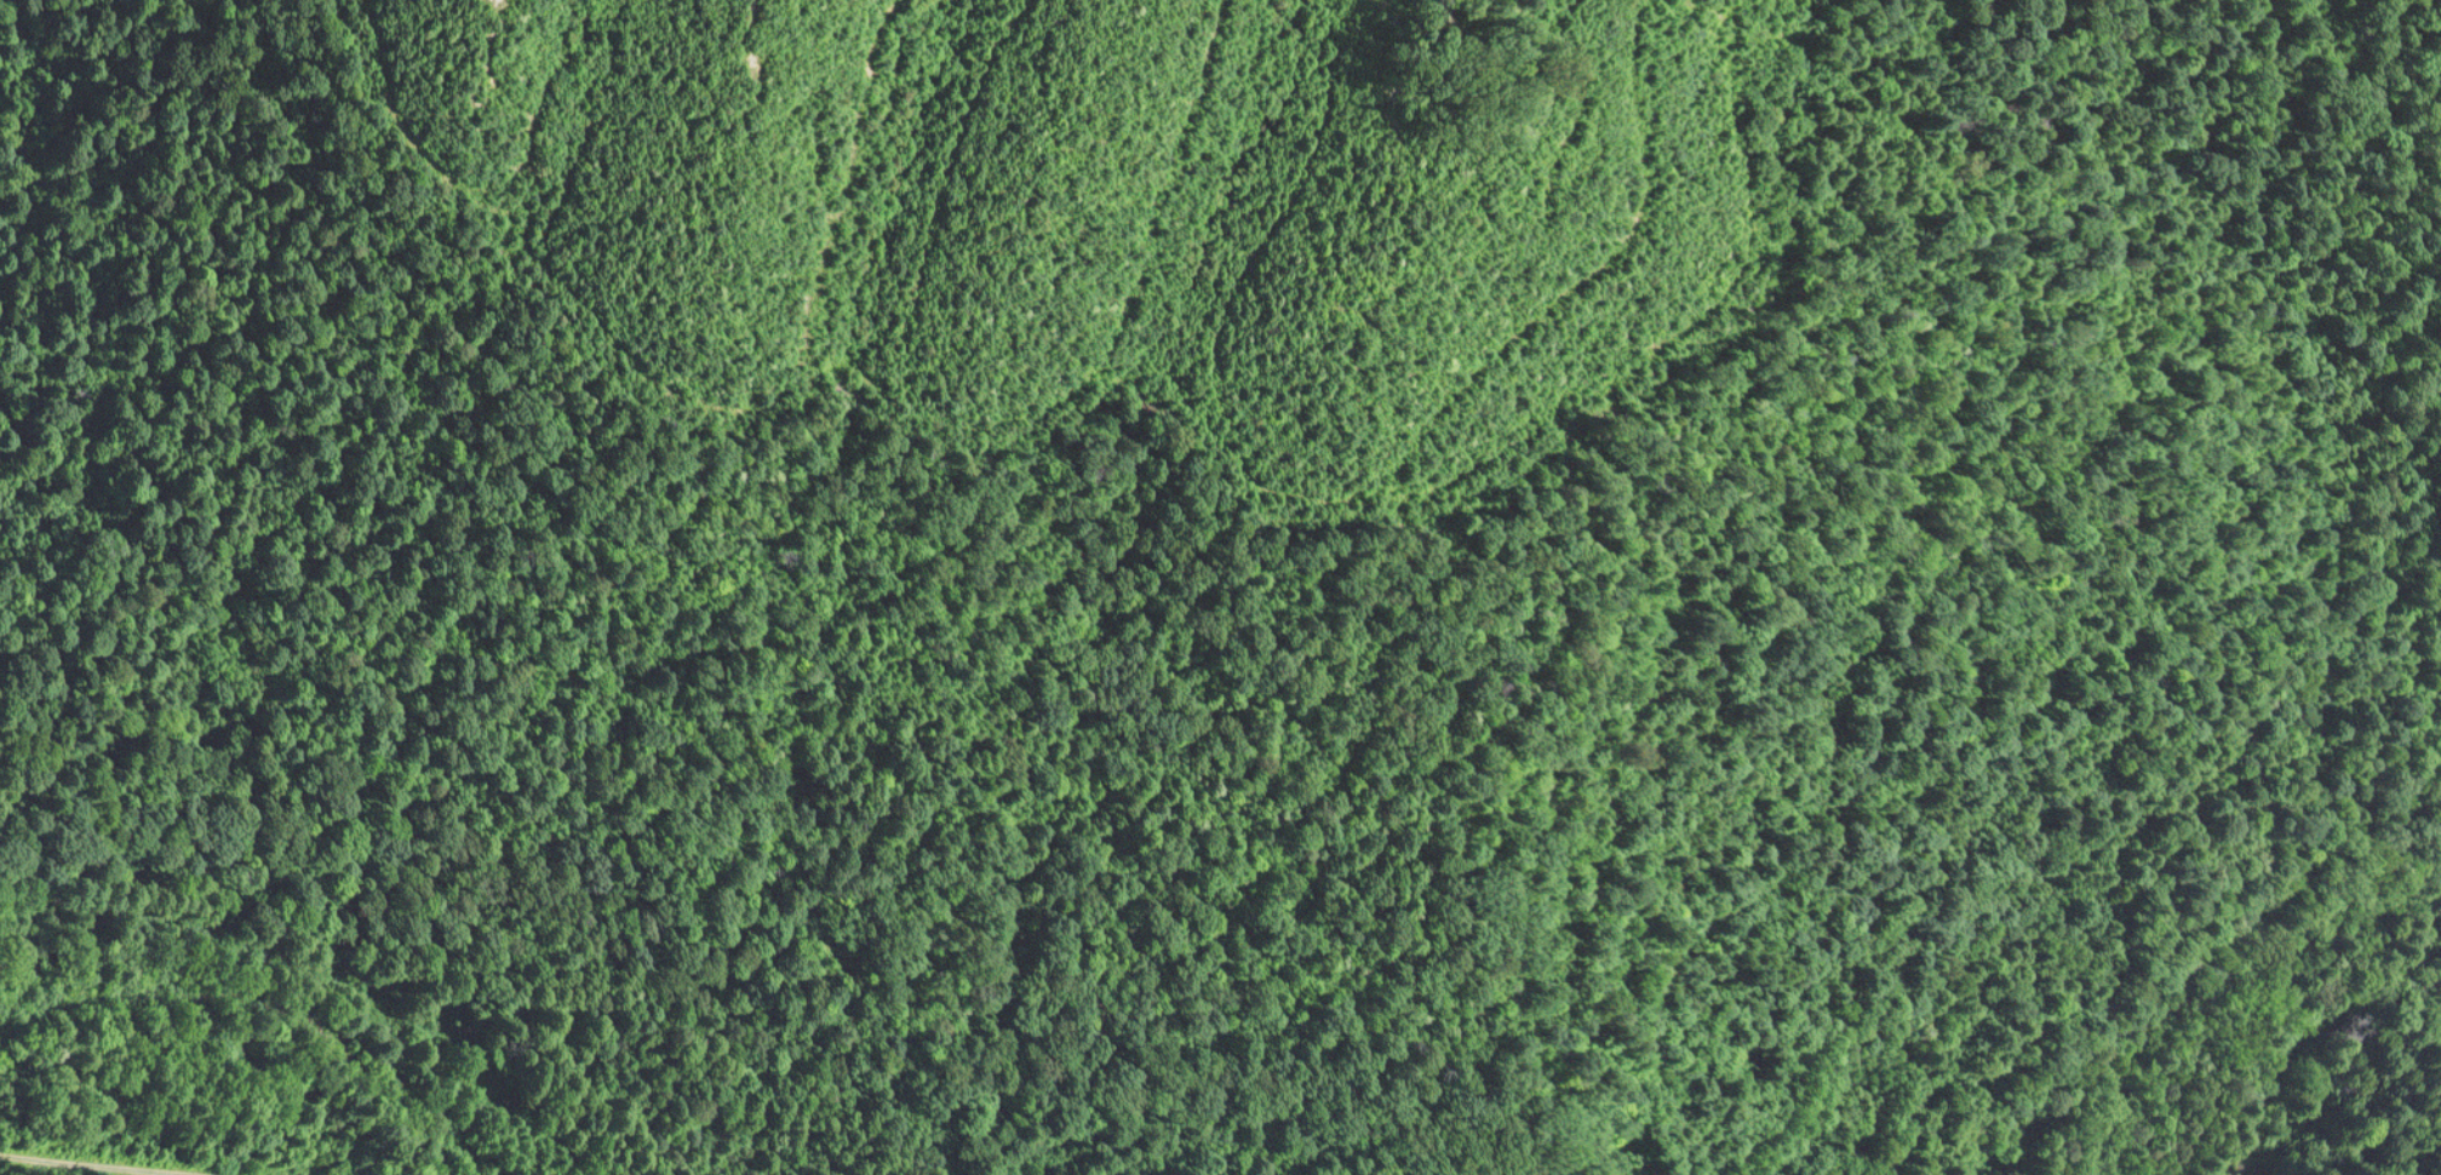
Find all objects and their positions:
quarry: (1220, 587)
road: (2313, 1020)
road: (79, 1160)

